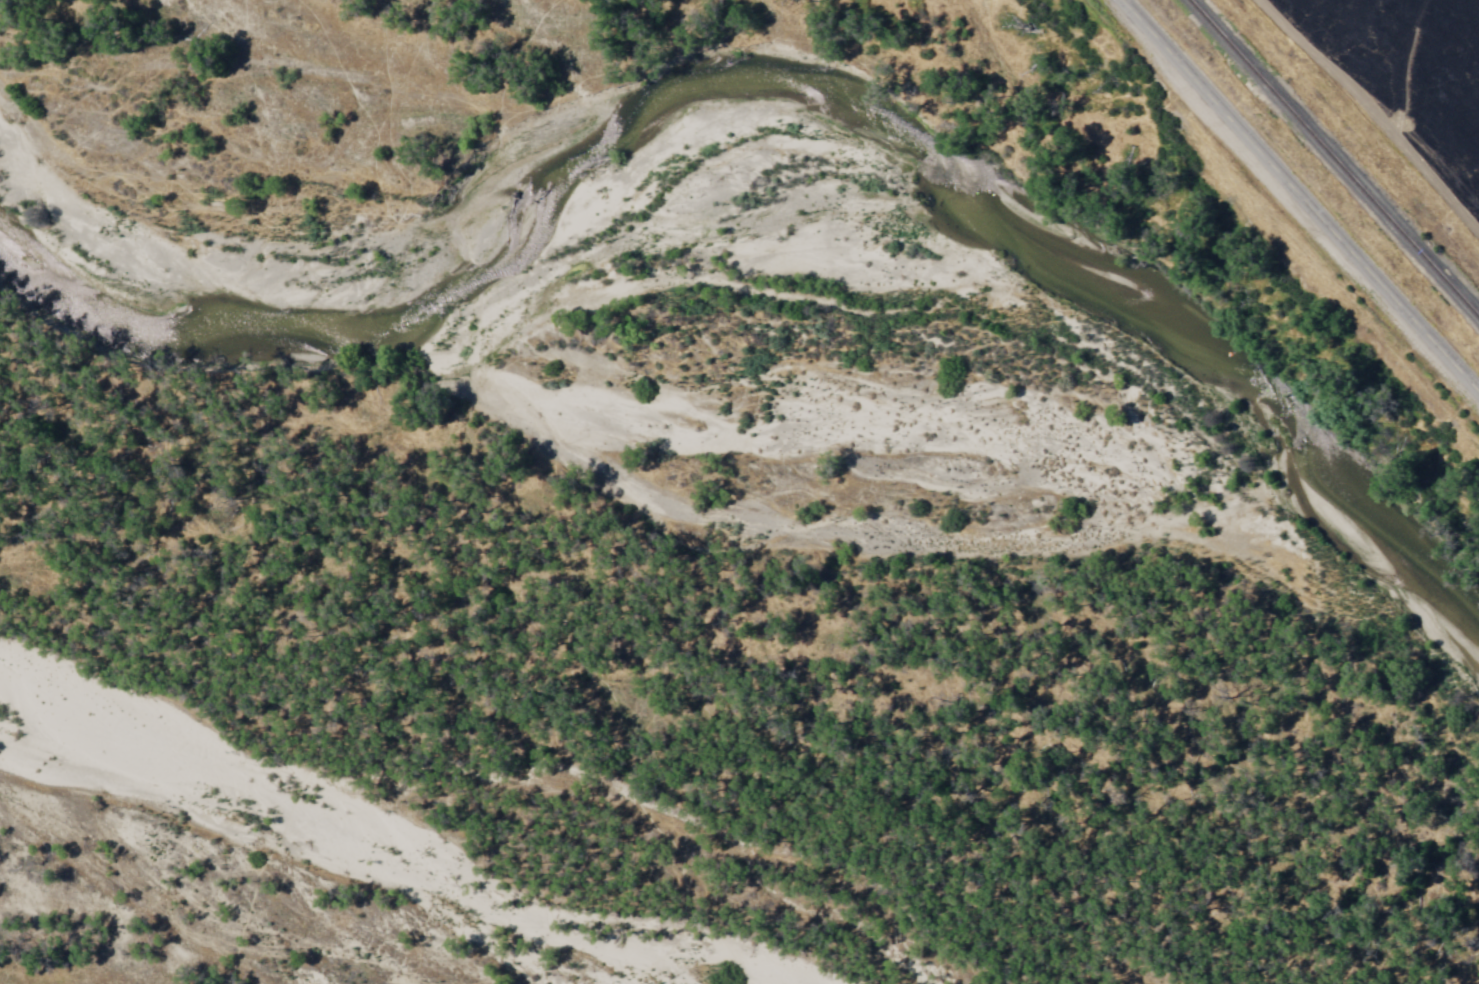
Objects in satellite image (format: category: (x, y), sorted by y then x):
railway: (1332, 160)
road: (1303, 192)
river: (338, 258)
park: (1292, 295)
river: (1075, 526)

